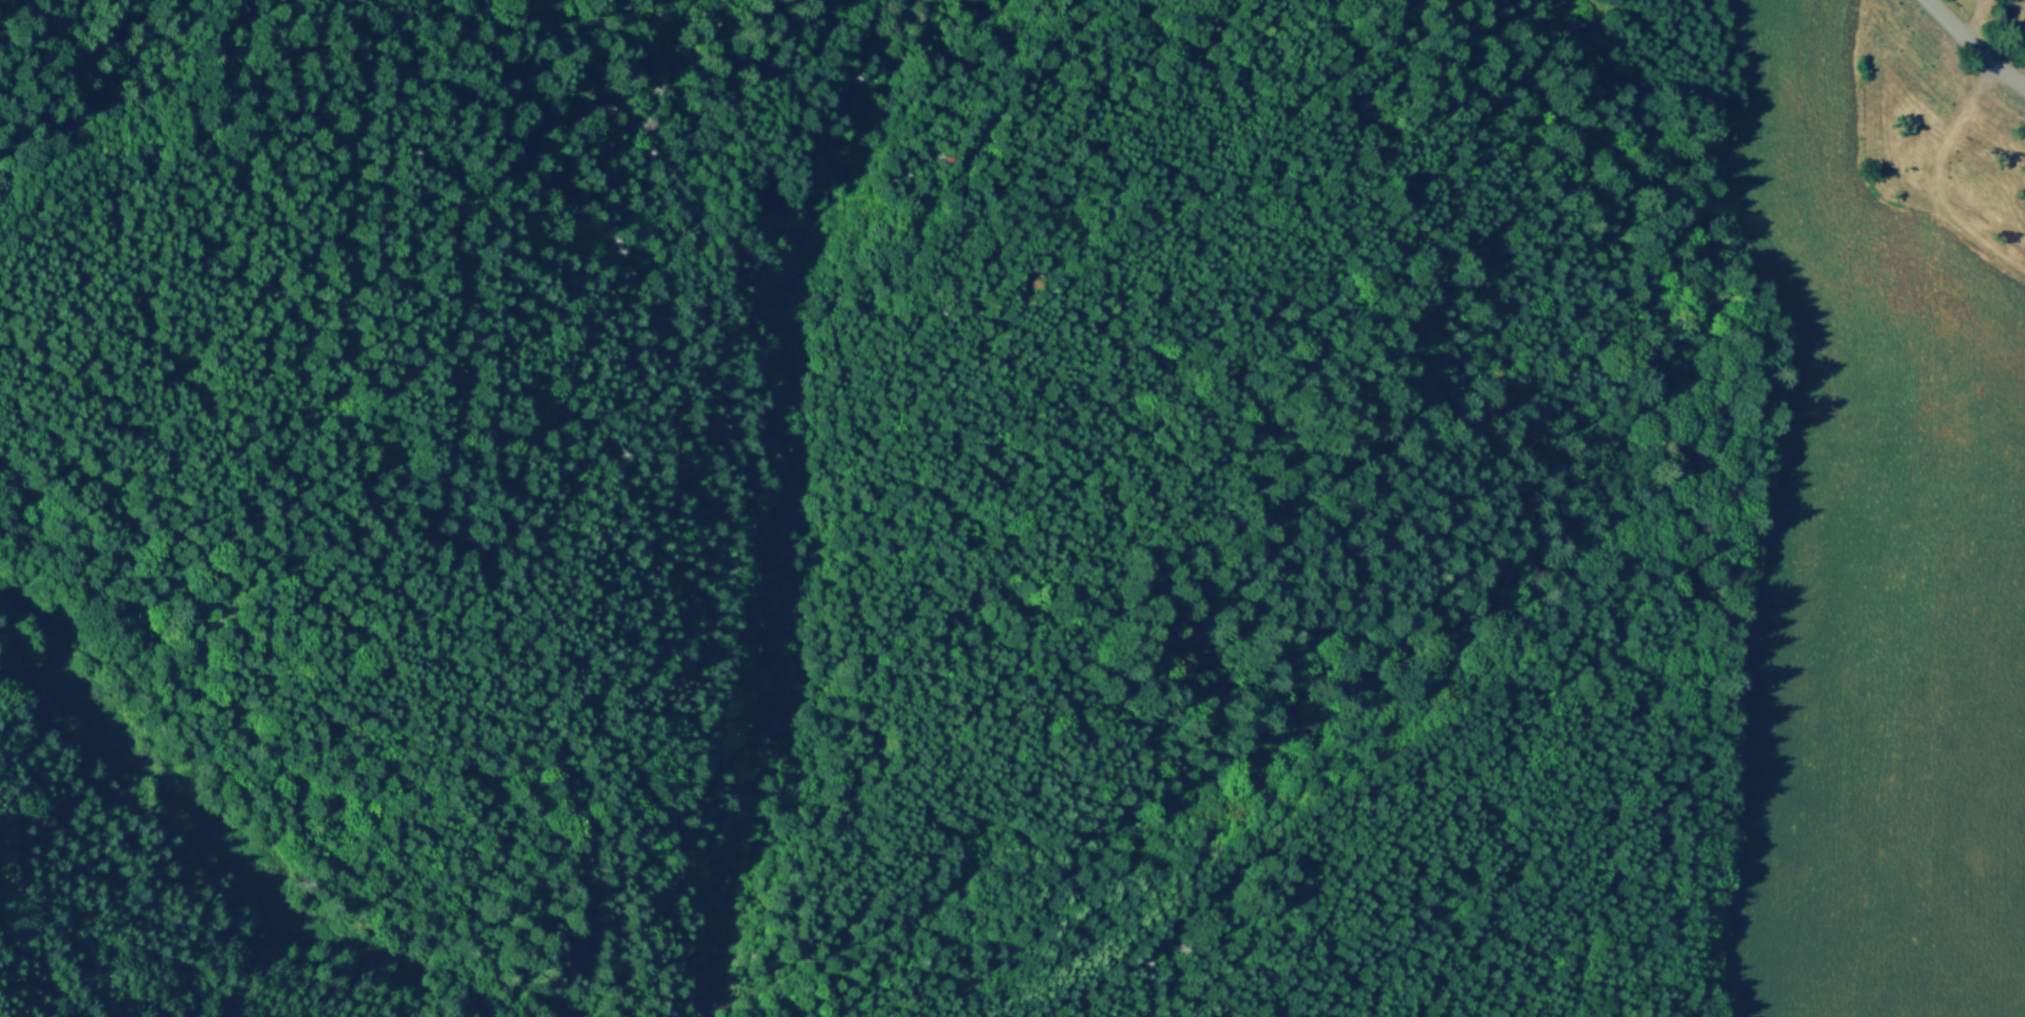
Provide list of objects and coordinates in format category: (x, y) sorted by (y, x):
road: (1974, 45)
road: (1940, 147)
crop: (1874, 577)

